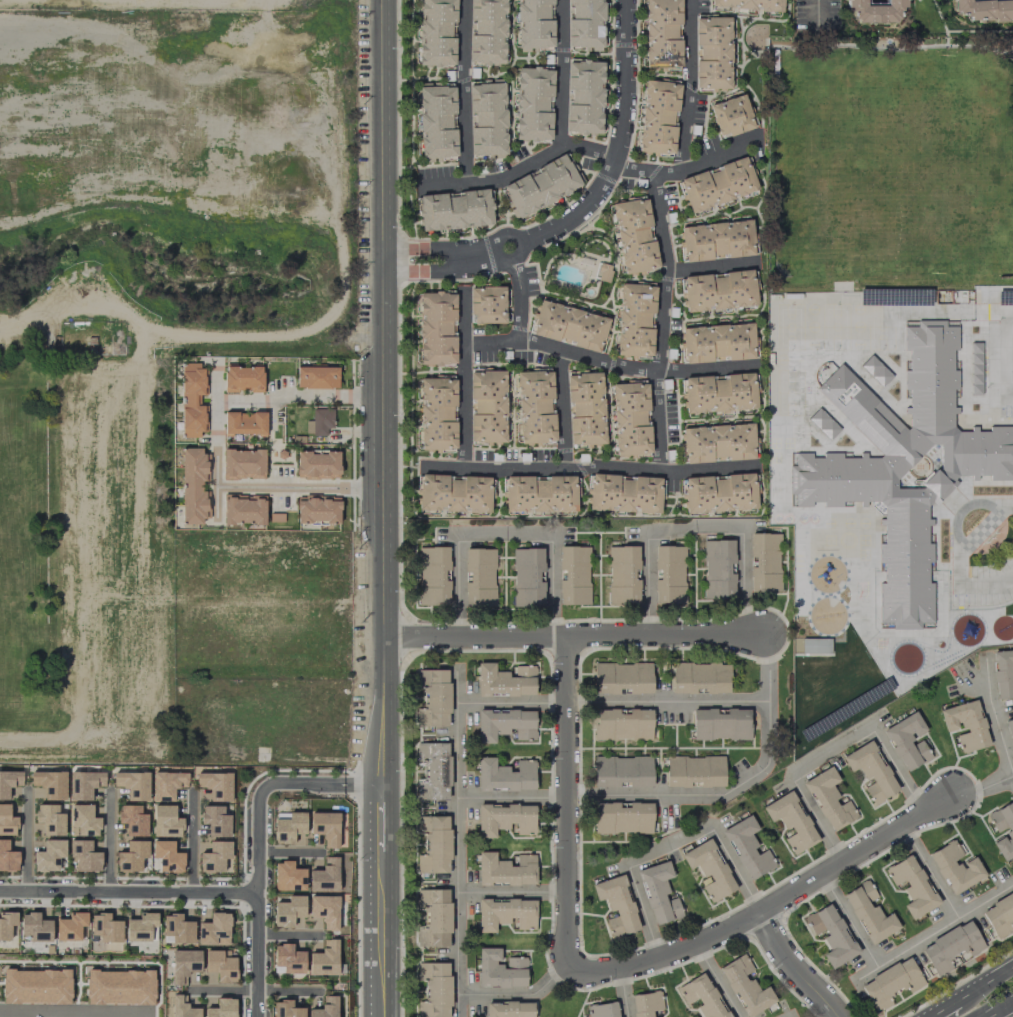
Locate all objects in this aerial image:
building: (748, 4)
building: (985, 9)
building: (875, 10)
road: (820, 11)
building: (585, 24)
building: (534, 25)
building: (487, 31)
building: (436, 32)
building: (662, 34)
road: (832, 45)
building: (712, 52)
road: (564, 73)
road: (691, 86)
road: (746, 86)
road: (463, 92)
building: (584, 97)
building: (533, 104)
park: (900, 108)
building: (731, 115)
building: (658, 117)
building: (487, 120)
building: (436, 121)
park: (891, 164)
road: (520, 169)
road: (688, 169)
building: (717, 184)
building: (540, 186)
road: (585, 206)
building: (454, 210)
park: (901, 216)
building: (634, 235)
building: (716, 240)
road: (715, 267)
building: (603, 272)
building: (718, 290)
road: (522, 293)
building: (486, 304)
park: (146, 317)
building: (635, 320)
road: (664, 322)
building: (569, 325)
building: (437, 328)
building: (935, 336)
building: (716, 343)
road: (1008, 355)
road: (610, 363)
building: (316, 377)
building: (243, 378)
road: (466, 378)
building: (718, 393)
building: (191, 400)
building: (487, 406)
building: (535, 407)
building: (585, 408)
road: (563, 409)
building: (437, 414)
building: (630, 418)
building: (321, 421)
building: (244, 423)
road: (213, 440)
building: (717, 443)
building: (243, 463)
building: (317, 465)
road: (593, 470)
building: (915, 477)
road: (81, 480)
building: (193, 485)
building: (453, 493)
building: (623, 493)
building: (719, 493)
building: (539, 494)
building: (317, 508)
road: (384, 508)
building: (243, 509)
road: (698, 530)
road: (505, 534)
road: (956, 560)
building: (764, 562)
building: (718, 569)
building: (669, 574)
building: (432, 575)
building: (573, 575)
building: (623, 575)
building: (479, 577)
building: (527, 577)
parking lot: (990, 584)
road: (572, 635)
building: (815, 668)
building: (1003, 673)
building: (622, 678)
building: (699, 678)
building: (505, 680)
building: (431, 697)
road: (614, 703)
road: (996, 714)
building: (505, 724)
building: (622, 724)
building: (720, 724)
building: (965, 725)
building: (1009, 731)
building: (907, 741)
road: (832, 750)
building: (433, 771)
building: (622, 771)
building: (694, 771)
building: (870, 771)
building: (505, 775)
building: (9, 782)
building: (50, 783)
road: (362, 783)
building: (84, 784)
building: (132, 784)
building: (167, 784)
road: (981, 784)
building: (215, 785)
road: (738, 788)
road: (513, 798)
road: (567, 799)
building: (829, 800)
building: (622, 818)
building: (504, 819)
building: (48, 820)
building: (132, 820)
building: (215, 820)
building: (7, 821)
building: (83, 821)
building: (791, 821)
building: (166, 822)
building: (288, 827)
building: (325, 827)
building: (1002, 829)
road: (25, 839)
road: (108, 839)
road: (191, 841)
building: (432, 844)
road: (458, 844)
road: (670, 846)
road: (256, 847)
building: (747, 848)
road: (288, 851)
building: (49, 855)
building: (131, 856)
building: (167, 856)
building: (7, 857)
building: (83, 857)
building: (214, 857)
building: (955, 867)
building: (709, 869)
building: (505, 870)
road: (932, 871)
building: (287, 876)
building: (324, 876)
building: (911, 885)
road: (127, 892)
road: (513, 893)
building: (658, 893)
building: (616, 905)
road: (766, 908)
building: (324, 910)
building: (288, 911)
building: (869, 912)
building: (505, 914)
building: (999, 916)
building: (432, 917)
road: (851, 921)
building: (70, 926)
building: (35, 927)
building: (140, 927)
building: (105, 928)
building: (177, 929)
building: (214, 929)
road: (288, 934)
building: (831, 934)
road: (934, 934)
building: (951, 947)
building: (287, 959)
building: (324, 959)
building: (184, 964)
building: (220, 965)
road: (794, 968)
building: (500, 969)
road: (719, 980)
road: (986, 980)
building: (891, 983)
building: (36, 986)
building: (745, 986)
building: (119, 987)
road: (252, 989)
building: (433, 989)
road: (626, 992)
road: (519, 993)
building: (701, 996)
road: (255, 1003)
building: (646, 1004)
road: (942, 1007)
road: (998, 1007)
building: (181, 1008)
building: (221, 1008)
building: (325, 1008)
building: (285, 1009)
building: (509, 1009)
building: (602, 1010)
road: (26, 1011)
road: (98, 1012)

